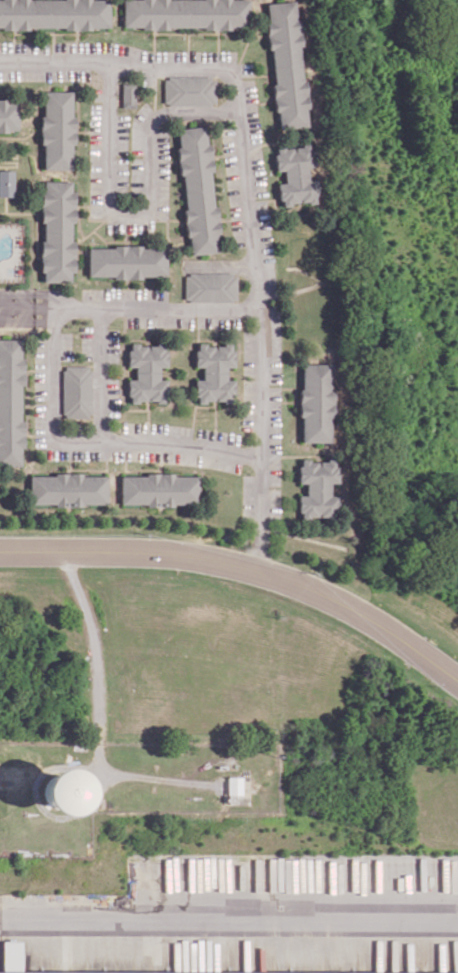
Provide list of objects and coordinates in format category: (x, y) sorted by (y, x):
building: (54, 13)
building: (186, 13)
building: (287, 63)
parking lot: (246, 67)
parking lot: (95, 91)
building: (188, 91)
building: (128, 92)
building: (8, 115)
building: (57, 129)
parking lot: (95, 159)
parking lot: (161, 173)
building: (295, 175)
park: (8, 177)
building: (6, 183)
parking lot: (232, 184)
building: (197, 190)
road: (249, 202)
road: (145, 209)
parking lot: (129, 225)
building: (57, 230)
building: (127, 260)
building: (210, 285)
parking lot: (124, 293)
road: (129, 306)
parking lot: (159, 320)
parking lot: (220, 321)
parking lot: (86, 342)
parking lot: (274, 343)
parking lot: (66, 345)
parking lot: (40, 366)
building: (215, 371)
road: (100, 373)
building: (147, 373)
building: (77, 390)
building: (11, 402)
parking lot: (249, 403)
building: (315, 403)
parking lot: (40, 425)
parking lot: (157, 428)
parking lot: (218, 435)
road: (92, 440)
building: (317, 487)
building: (67, 489)
building: (159, 489)
road: (243, 564)
road: (97, 713)
building: (236, 784)
water tower: (67, 788)
building: (61, 791)
road: (39, 803)
road: (229, 916)
building: (13, 955)
building: (206, 972)

